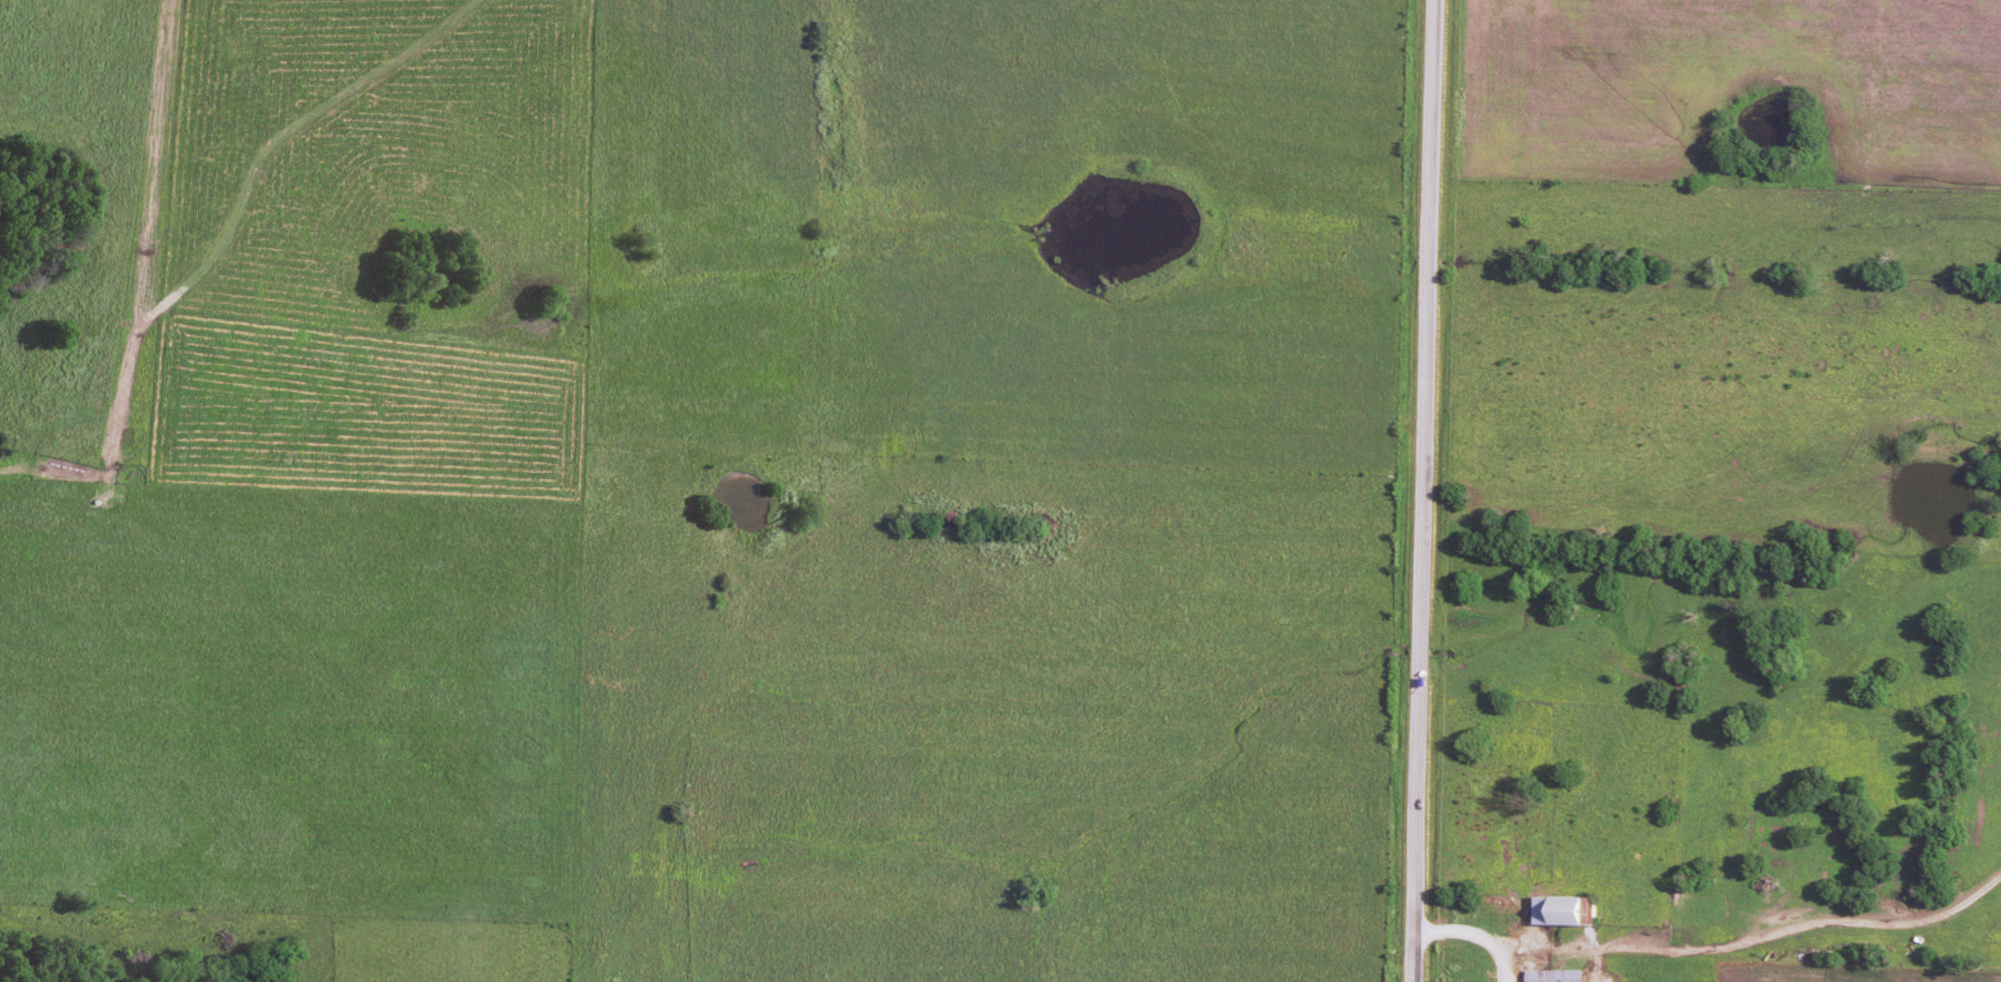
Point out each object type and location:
road: (1422, 490)
building: (1564, 907)
road: (1475, 935)
building: (1557, 974)

